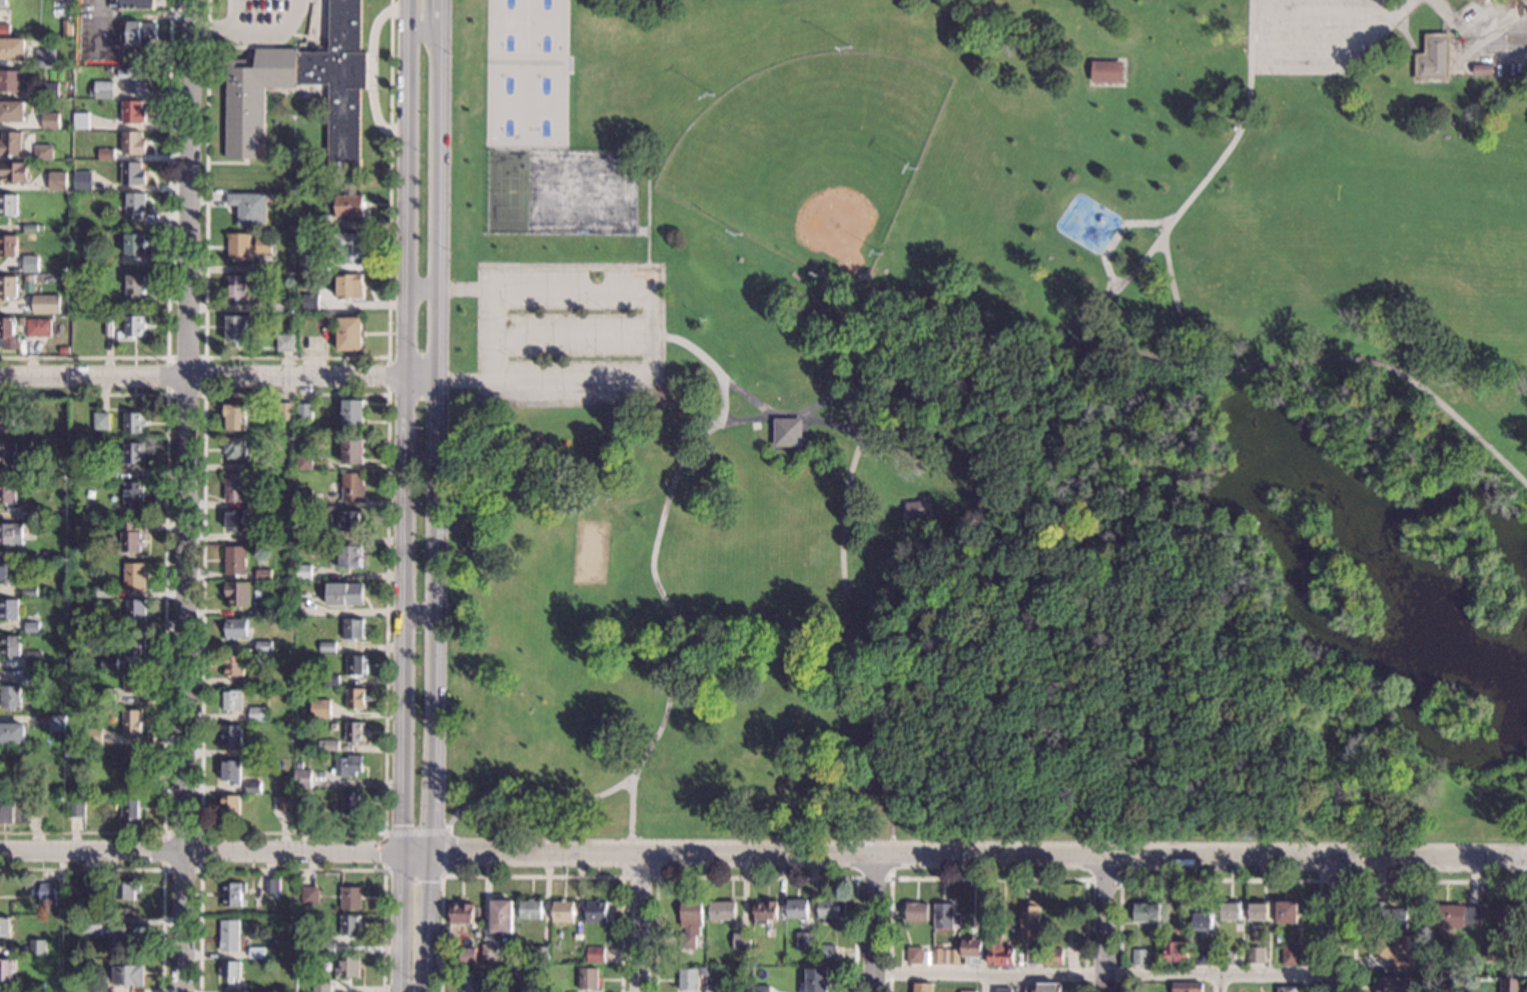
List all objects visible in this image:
building: (3, 3)
building: (138, 4)
road: (1395, 7)
road: (439, 11)
road: (233, 14)
road: (320, 19)
parking lot: (263, 20)
building: (68, 27)
building: (4, 28)
road: (272, 29)
road: (423, 29)
building: (142, 32)
road: (1257, 32)
road: (256, 33)
parking lot: (1316, 34)
building: (79, 37)
road: (1264, 44)
road: (238, 47)
building: (12, 48)
building: (46, 57)
building: (1434, 58)
road: (372, 69)
building: (1482, 69)
park: (525, 72)
building: (1106, 72)
building: (134, 78)
building: (9, 80)
building: (261, 85)
building: (51, 89)
building: (104, 89)
building: (69, 92)
building: (12, 111)
building: (133, 111)
building: (51, 120)
building: (82, 120)
building: (133, 142)
building: (10, 143)
building: (44, 152)
building: (107, 153)
park: (810, 155)
building: (15, 171)
building: (133, 173)
building: (58, 180)
building: (83, 180)
park: (508, 192)
park: (583, 192)
building: (9, 204)
building: (135, 205)
building: (348, 205)
building: (249, 207)
road: (648, 208)
building: (319, 222)
building: (34, 227)
building: (112, 228)
building: (115, 236)
road: (1117, 236)
building: (135, 243)
building: (346, 244)
building: (9, 245)
building: (246, 245)
building: (305, 257)
building: (31, 263)
road: (169, 263)
road: (640, 264)
building: (77, 268)
building: (85, 268)
building: (30, 278)
building: (303, 279)
road: (422, 283)
building: (8, 286)
building: (236, 286)
building: (349, 286)
building: (134, 287)
building: (310, 301)
building: (46, 304)
building: (280, 304)
road: (1175, 305)
building: (21, 321)
building: (135, 326)
building: (39, 327)
building: (108, 328)
building: (242, 328)
building: (8, 333)
building: (349, 333)
road: (494, 334)
road: (650, 334)
parking lot: (569, 335)
road: (572, 337)
building: (286, 342)
road: (1099, 344)
road: (296, 357)
road: (707, 361)
road: (388, 376)
road: (220, 377)
road: (923, 385)
road: (205, 393)
road: (205, 394)
road: (748, 397)
building: (21, 403)
road: (628, 404)
road: (890, 406)
building: (286, 411)
building: (305, 411)
building: (353, 411)
building: (236, 415)
building: (8, 420)
building: (102, 420)
park: (988, 420)
building: (134, 422)
building: (787, 431)
building: (235, 447)
building: (300, 448)
building: (353, 450)
building: (9, 452)
building: (134, 453)
building: (304, 462)
building: (262, 465)
building: (29, 474)
building: (93, 474)
building: (111, 474)
building: (235, 487)
building: (353, 487)
building: (8, 492)
building: (133, 494)
building: (304, 495)
road: (401, 495)
road: (187, 496)
building: (264, 496)
road: (438, 507)
building: (301, 508)
building: (914, 508)
building: (29, 511)
building: (235, 519)
building: (349, 520)
building: (11, 533)
building: (260, 535)
building: (303, 535)
building: (130, 537)
park: (589, 551)
building: (28, 556)
building: (349, 556)
building: (235, 560)
building: (304, 571)
building: (8, 573)
building: (264, 574)
building: (135, 577)
building: (30, 591)
building: (105, 591)
building: (344, 593)
building: (238, 594)
building: (303, 603)
road: (848, 607)
building: (264, 608)
building: (9, 609)
building: (136, 609)
road: (166, 612)
road: (419, 614)
building: (31, 627)
building: (111, 627)
building: (237, 628)
building: (353, 628)
building: (134, 645)
building: (9, 646)
building: (264, 646)
building: (327, 646)
road: (673, 653)
building: (33, 660)
building: (109, 662)
building: (234, 664)
building: (355, 664)
building: (27, 678)
building: (329, 679)
building: (257, 681)
building: (315, 681)
building: (134, 682)
building: (10, 696)
building: (106, 696)
building: (355, 698)
building: (233, 699)
building: (320, 708)
building: (257, 714)
building: (132, 721)
building: (58, 723)
building: (354, 731)
building: (12, 733)
building: (96, 735)
building: (231, 735)
building: (328, 745)
building: (255, 751)
building: (95, 755)
building: (56, 756)
building: (299, 764)
building: (348, 765)
building: (231, 771)
building: (132, 775)
building: (302, 778)
building: (253, 786)
building: (352, 801)
building: (279, 803)
building: (35, 805)
building: (230, 805)
road: (630, 807)
building: (76, 808)
building: (131, 808)
building: (7, 809)
building: (297, 824)
road: (438, 830)
road: (200, 833)
road: (763, 857)
road: (143, 869)
road: (292, 869)
road: (394, 871)
road: (622, 873)
road: (530, 876)
road: (891, 876)
road: (756, 878)
road: (988, 879)
road: (1104, 880)
road: (1219, 880)
road: (1336, 882)
road: (1384, 882)
building: (61, 884)
building: (272, 885)
building: (94, 887)
building: (127, 888)
building: (233, 893)
building: (48, 894)
building: (309, 894)
building: (351, 897)
building: (530, 909)
building: (797, 909)
building: (63, 910)
building: (722, 910)
building: (830, 910)
building: (1230, 910)
building: (1258, 910)
building: (562, 911)
building: (596, 911)
building: (764, 911)
building: (916, 912)
building: (1146, 912)
building: (1286, 912)
building: (463, 913)
building: (501, 916)
building: (945, 916)
building: (1390, 916)
building: (1455, 916)
building: (1509, 918)
building: (1202, 920)
building: (1030, 921)
building: (689, 923)
building: (351, 924)
road: (639, 924)
building: (91, 925)
road: (875, 925)
building: (5, 926)
building: (1075, 926)
road: (1104, 926)
road: (1332, 927)
building: (1423, 930)
building: (230, 934)
building: (578, 936)
building: (1221, 936)
building: (126, 937)
building: (741, 941)
building: (806, 941)
building: (324, 945)
building: (39, 947)
building: (1515, 948)
building: (970, 949)
building: (999, 951)
building: (1394, 951)
building: (257, 952)
building: (490, 952)
building: (826, 952)
building: (1305, 953)
building: (467, 954)
building: (542, 954)
building: (595, 954)
building: (1176, 954)
building: (1289, 954)
building: (914, 955)
building: (1033, 955)
building: (1255, 955)
building: (1488, 955)
building: (937, 956)
building: (945, 956)
building: (954, 956)
building: (1053, 956)
building: (1140, 956)
building: (1199, 957)
building: (1226, 957)
building: (1077, 959)
building: (1522, 965)
building: (349, 966)
building: (7, 969)
building: (231, 969)
building: (737, 969)
building: (520, 972)
building: (129, 974)
road: (1103, 975)
building: (587, 978)
building: (687, 979)
building: (473, 980)
building: (814, 981)
road: (988, 983)
road: (1219, 984)
building: (1393, 984)
building: (1510, 985)
building: (36, 987)
building: (97, 987)
building: (322, 987)
building: (922, 987)
building: (1047, 987)
building: (1186, 987)
building: (236, 989)
building: (712, 989)
building: (761, 989)
building: (1285, 989)
building: (1004, 990)
building: (966, 991)

